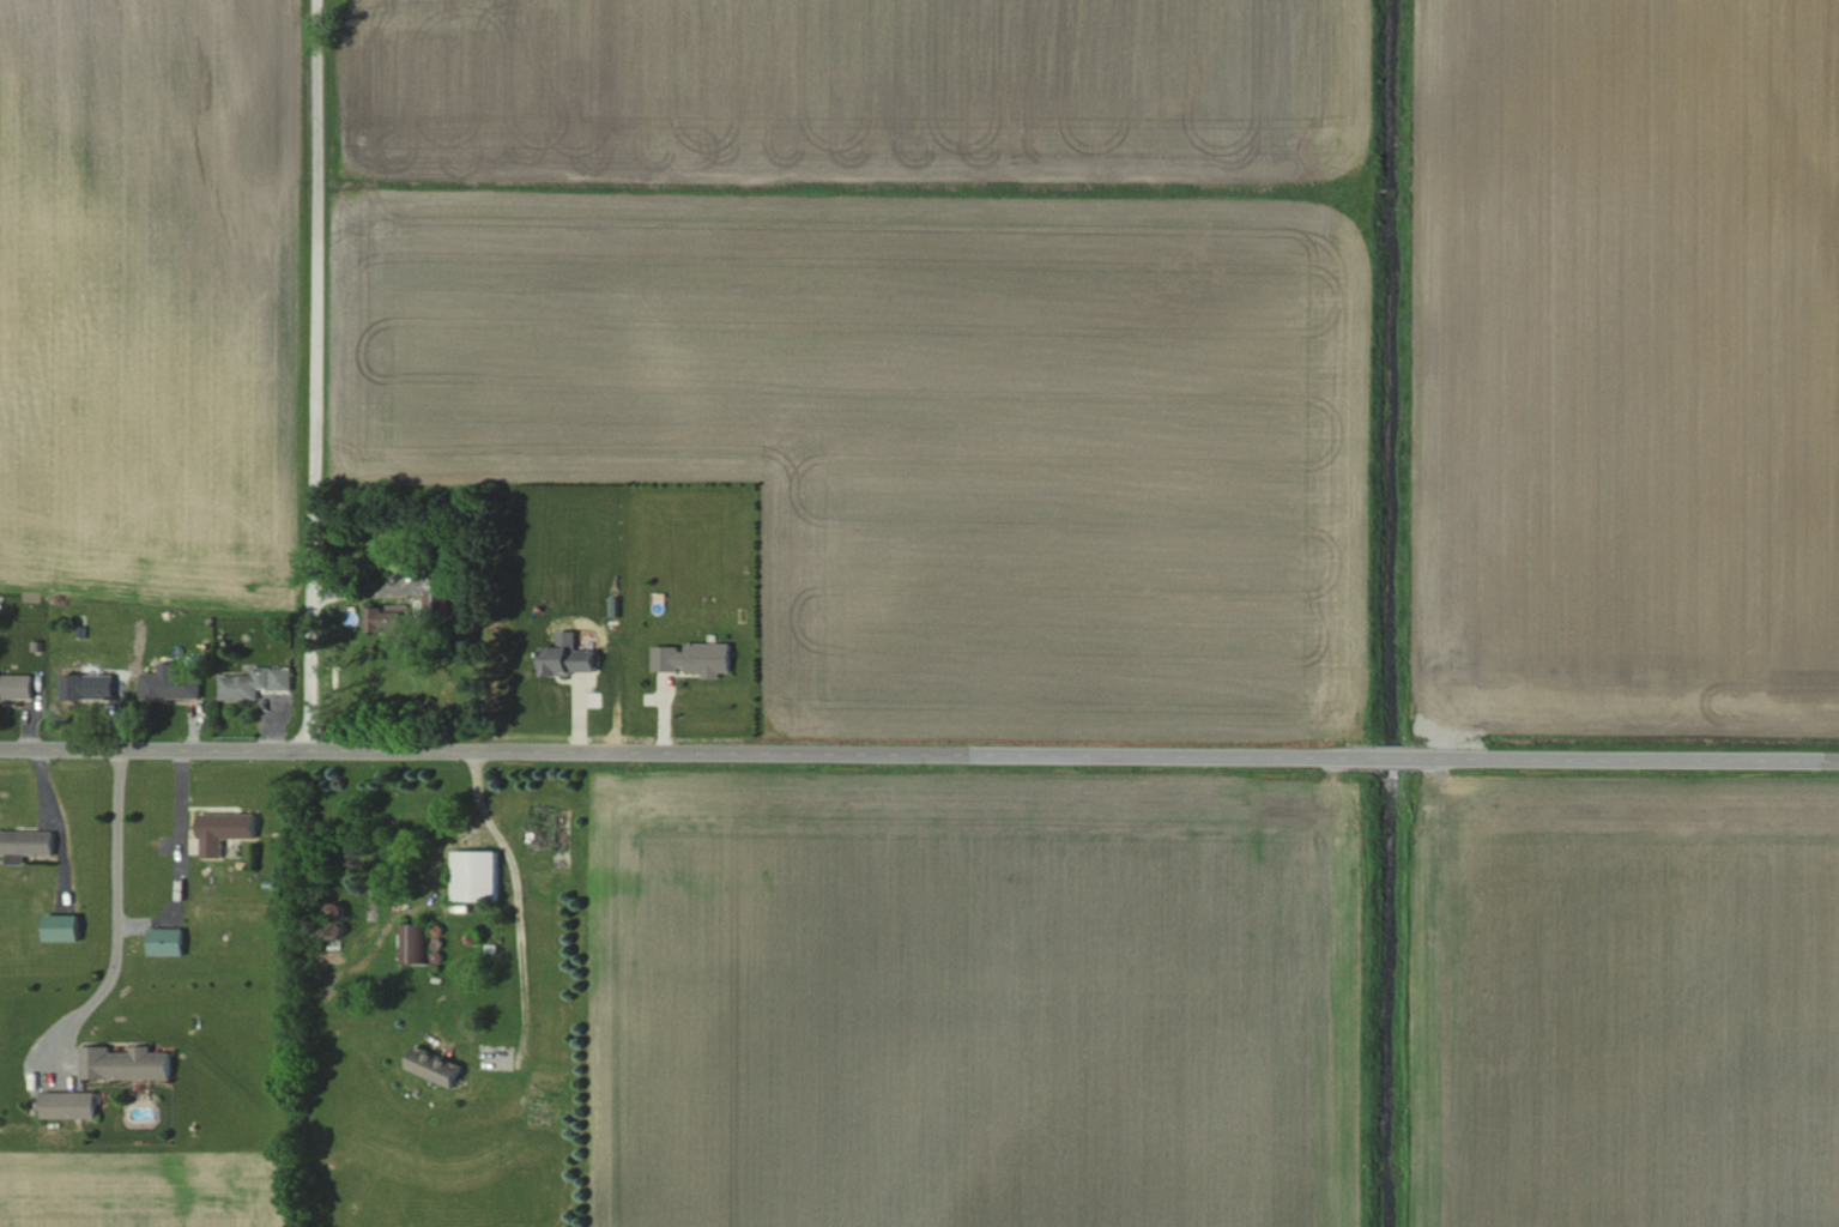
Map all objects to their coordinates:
road: (313, 376)
building: (570, 655)
building: (697, 663)
building: (254, 682)
building: (17, 687)
building: (90, 687)
building: (171, 687)
road: (688, 755)
road: (1393, 760)
road: (1625, 761)
building: (225, 830)
building: (26, 845)
building: (478, 875)
road: (515, 909)
road: (119, 912)
building: (63, 927)
building: (168, 941)
building: (129, 1063)
building: (435, 1066)
building: (71, 1105)

